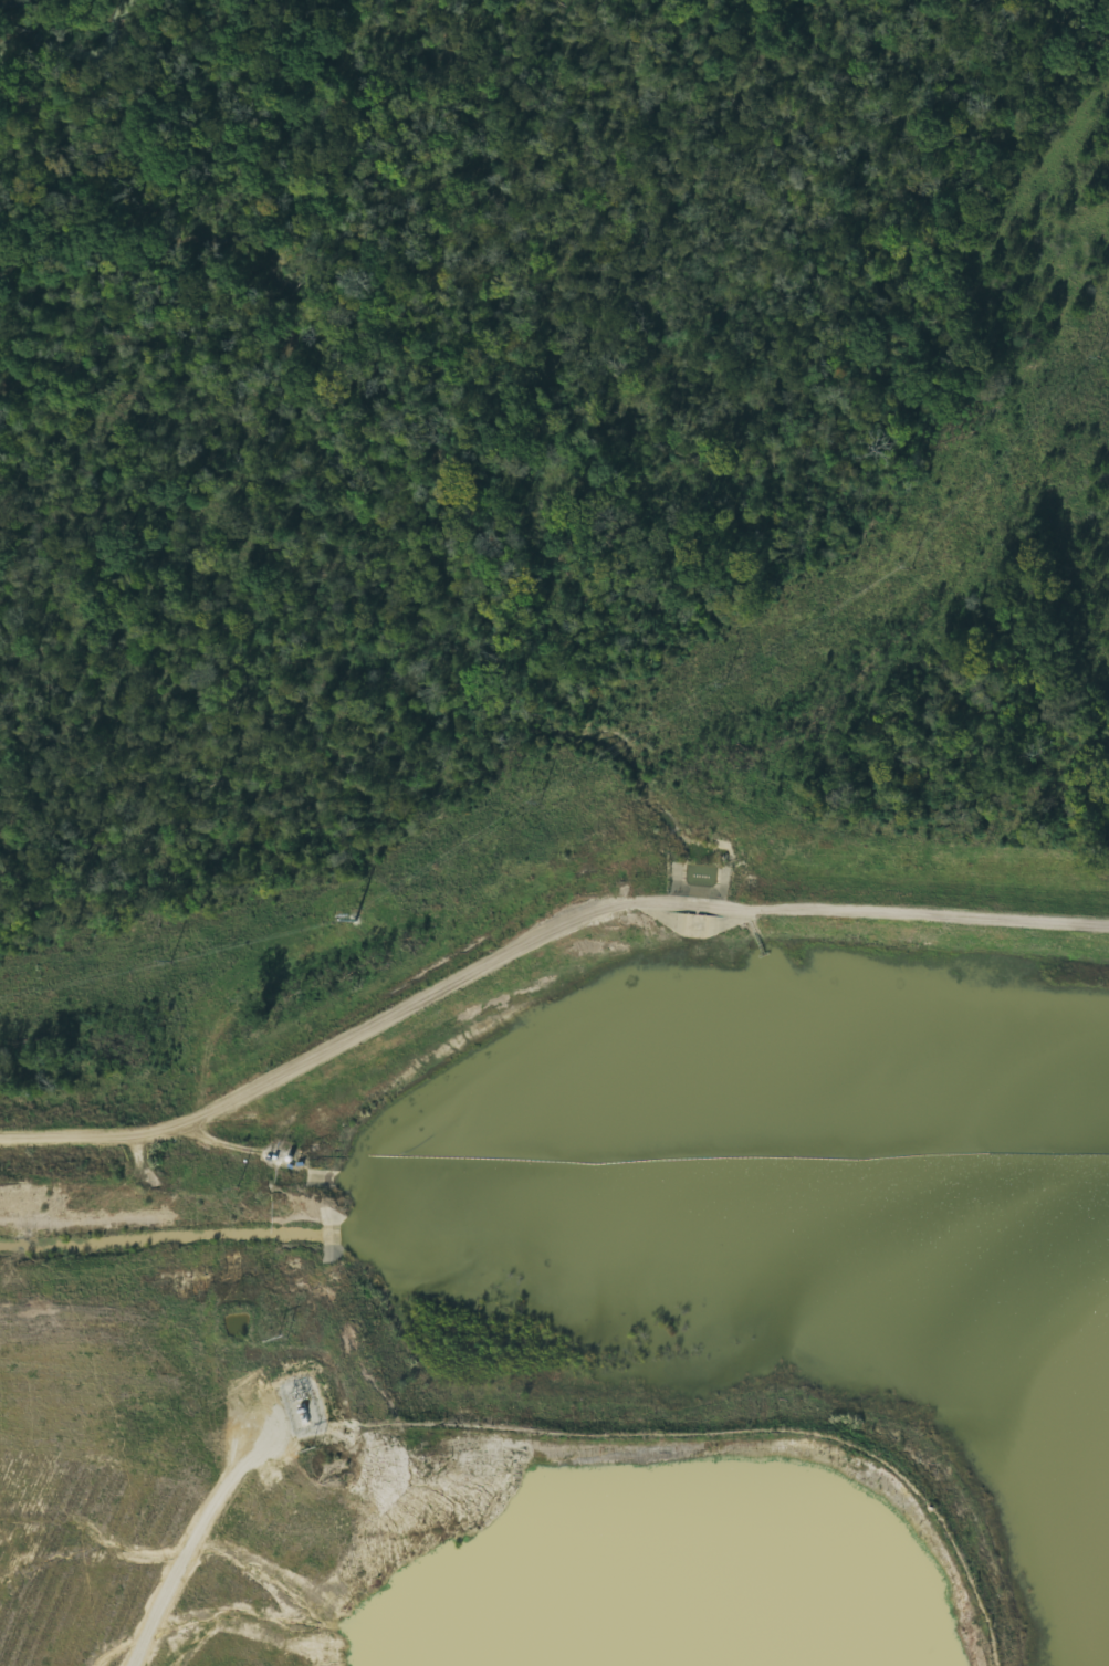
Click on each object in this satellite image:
quarry: (597, 1254)
road: (192, 1544)

